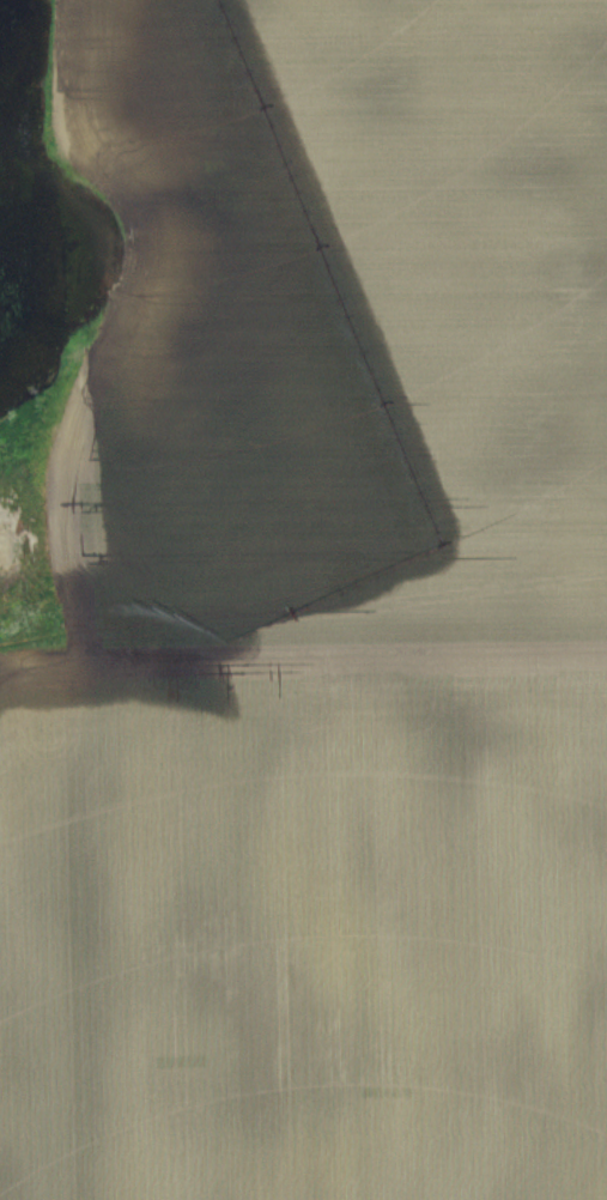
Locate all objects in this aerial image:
crop: (344, 345)
crop: (304, 943)

